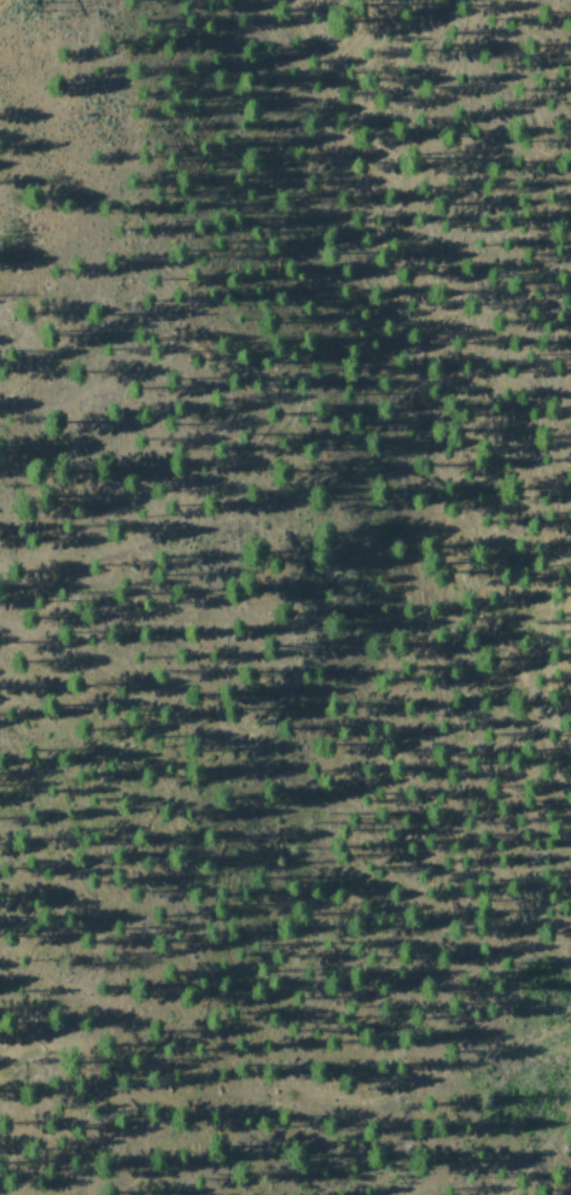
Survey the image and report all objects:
power tower: (34, 13)

